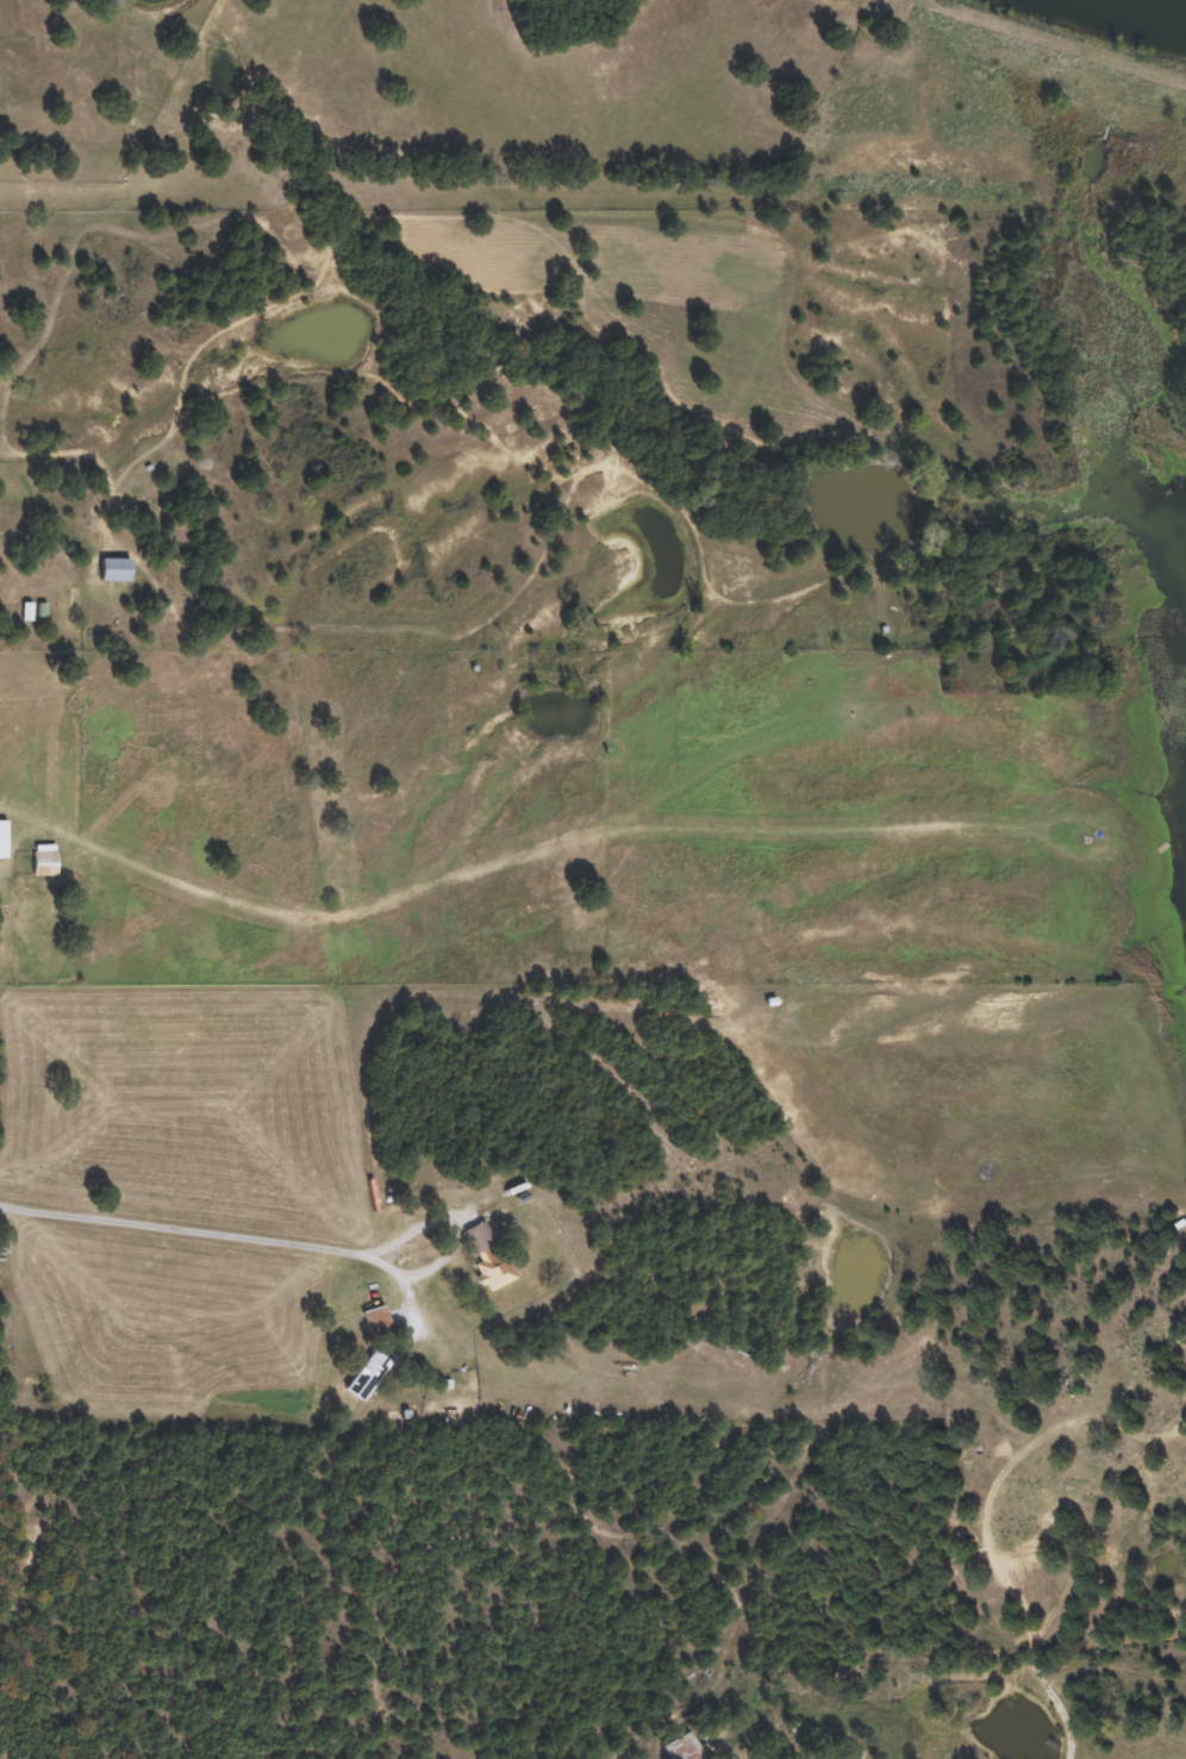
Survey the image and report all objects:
building: (113, 569)
building: (1, 838)
building: (43, 863)
road: (181, 1229)
road: (457, 1231)
building: (485, 1261)
building: (375, 1321)
building: (366, 1374)
building: (681, 1748)

